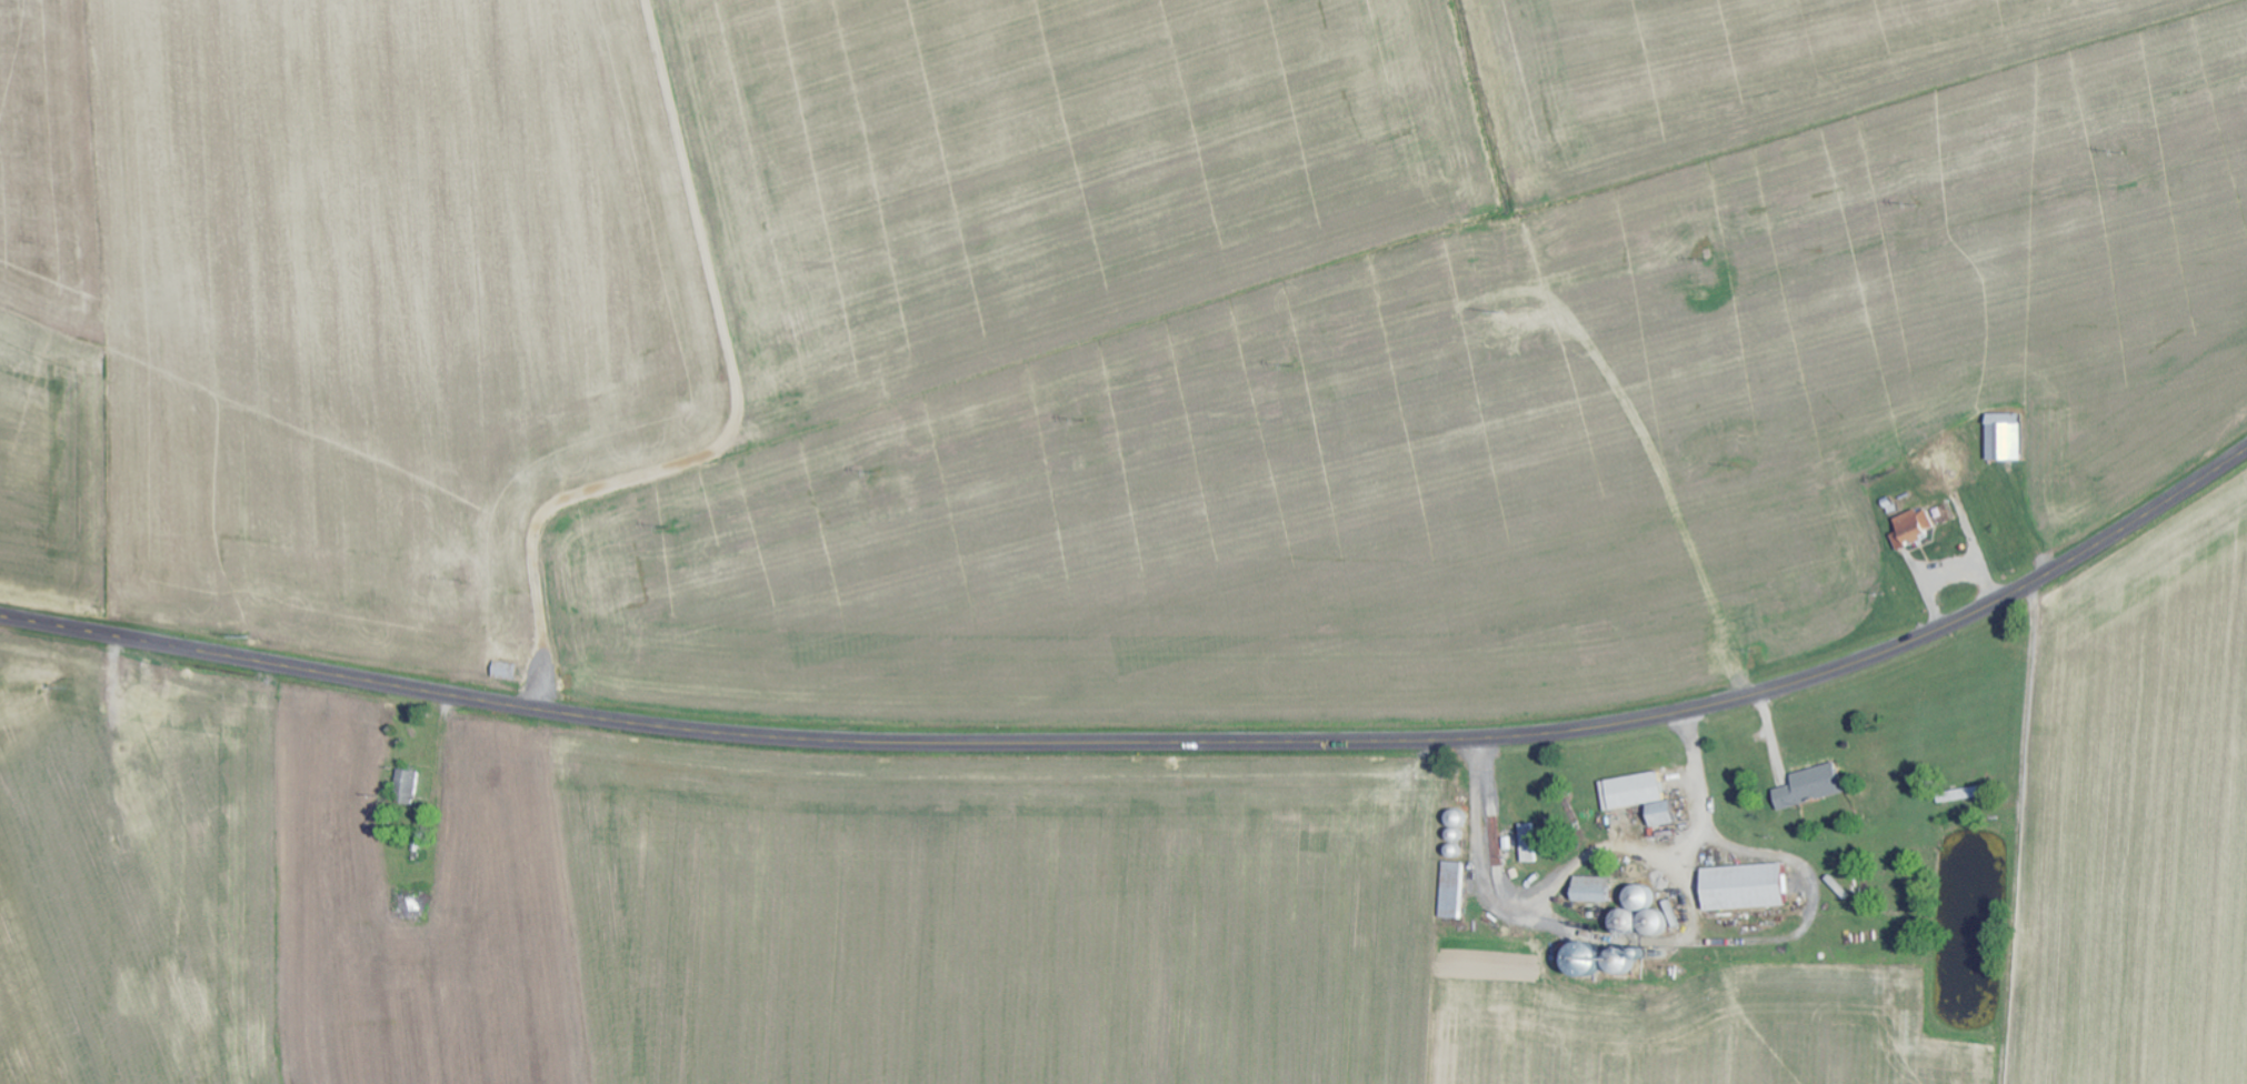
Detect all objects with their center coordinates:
building: (2005, 436)
road: (1151, 740)
building: (410, 783)
building: (1632, 792)
building: (1595, 887)
building: (1746, 887)
building: (1454, 891)

